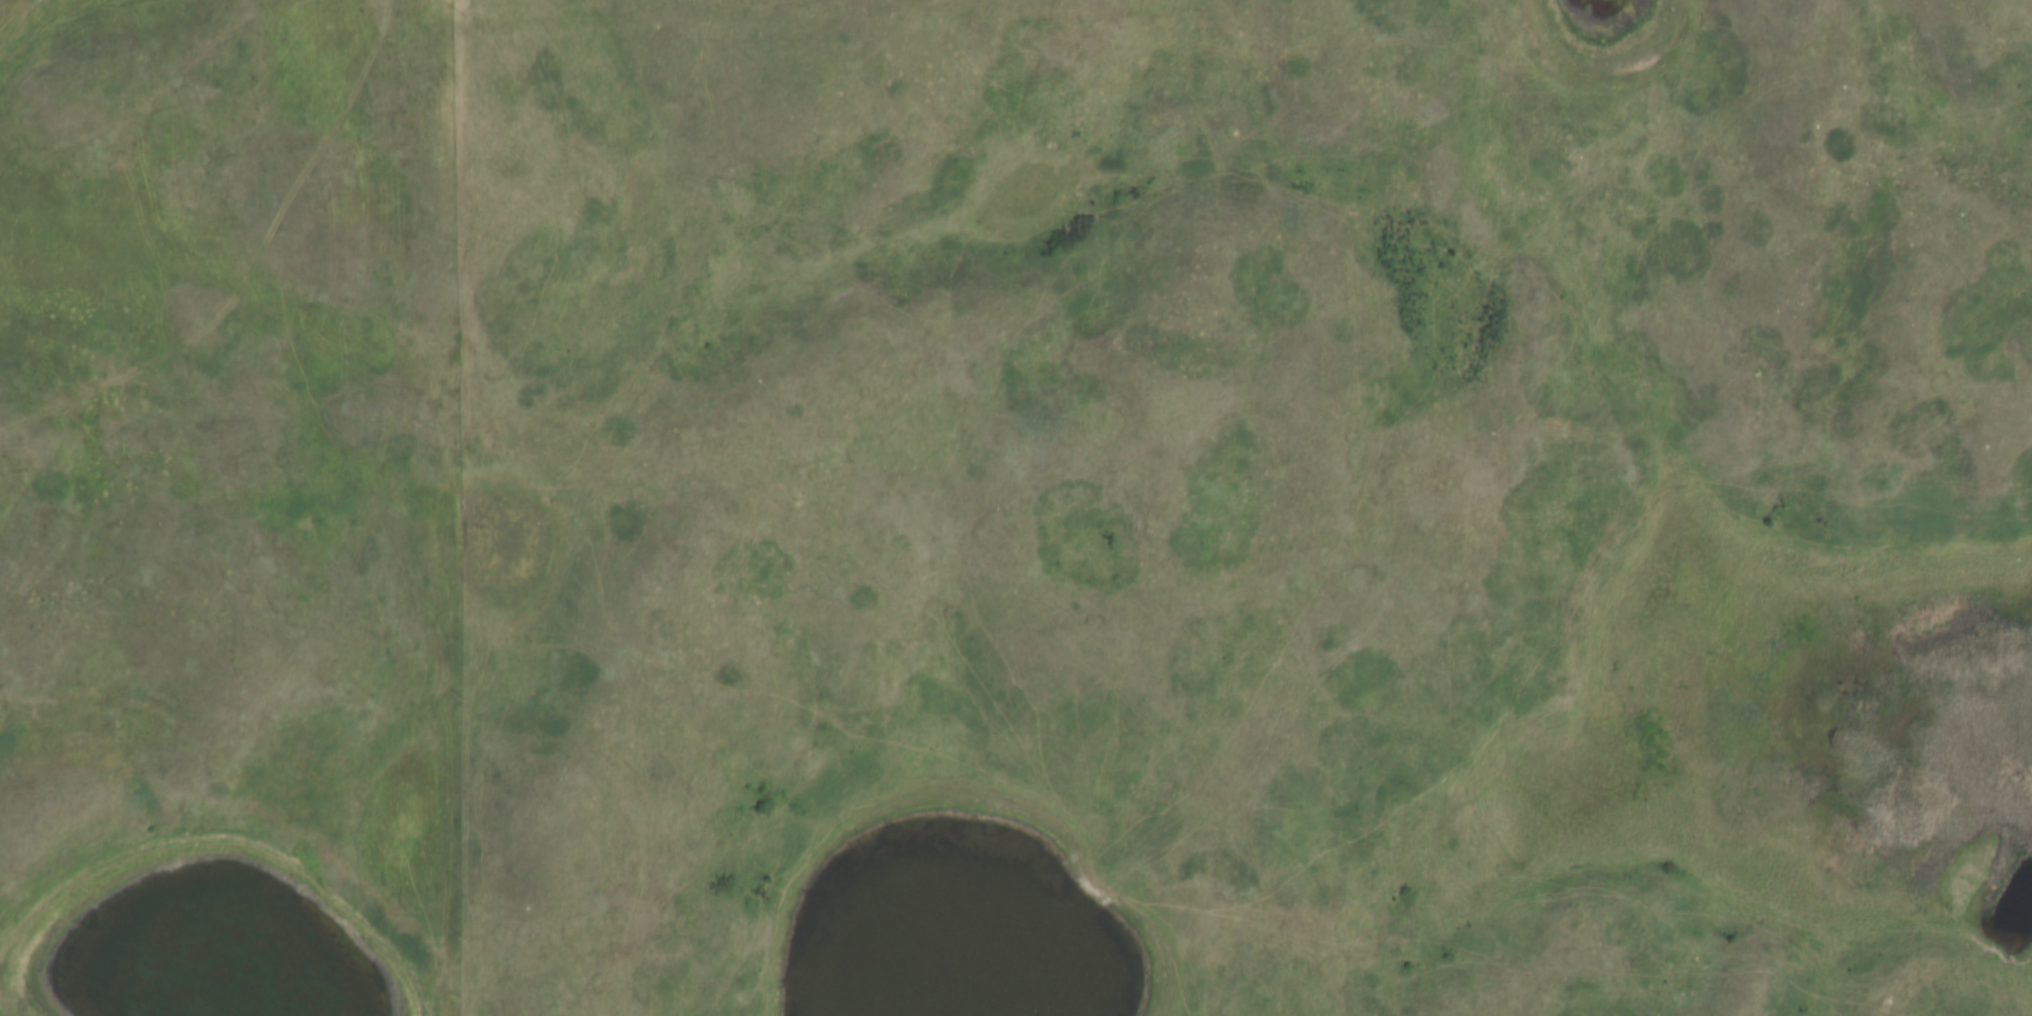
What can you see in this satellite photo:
road: (248, 269)

